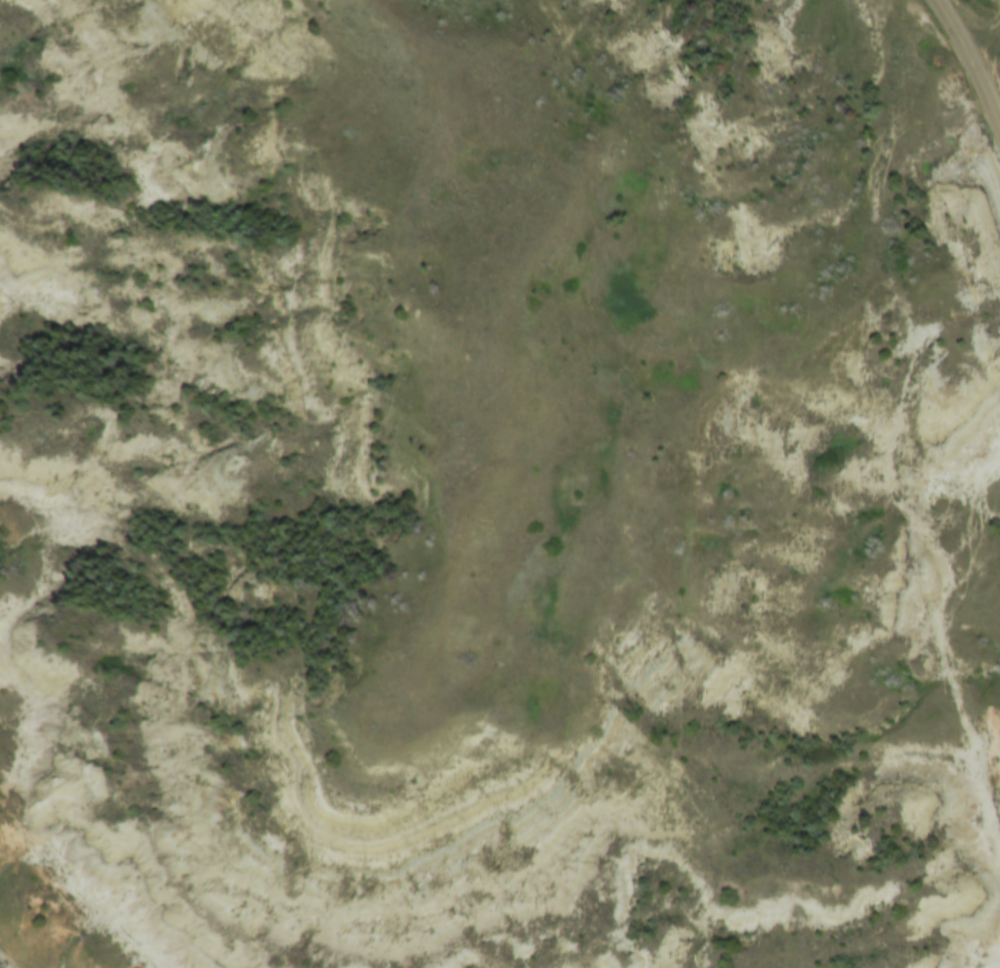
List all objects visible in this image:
road: (970, 65)

